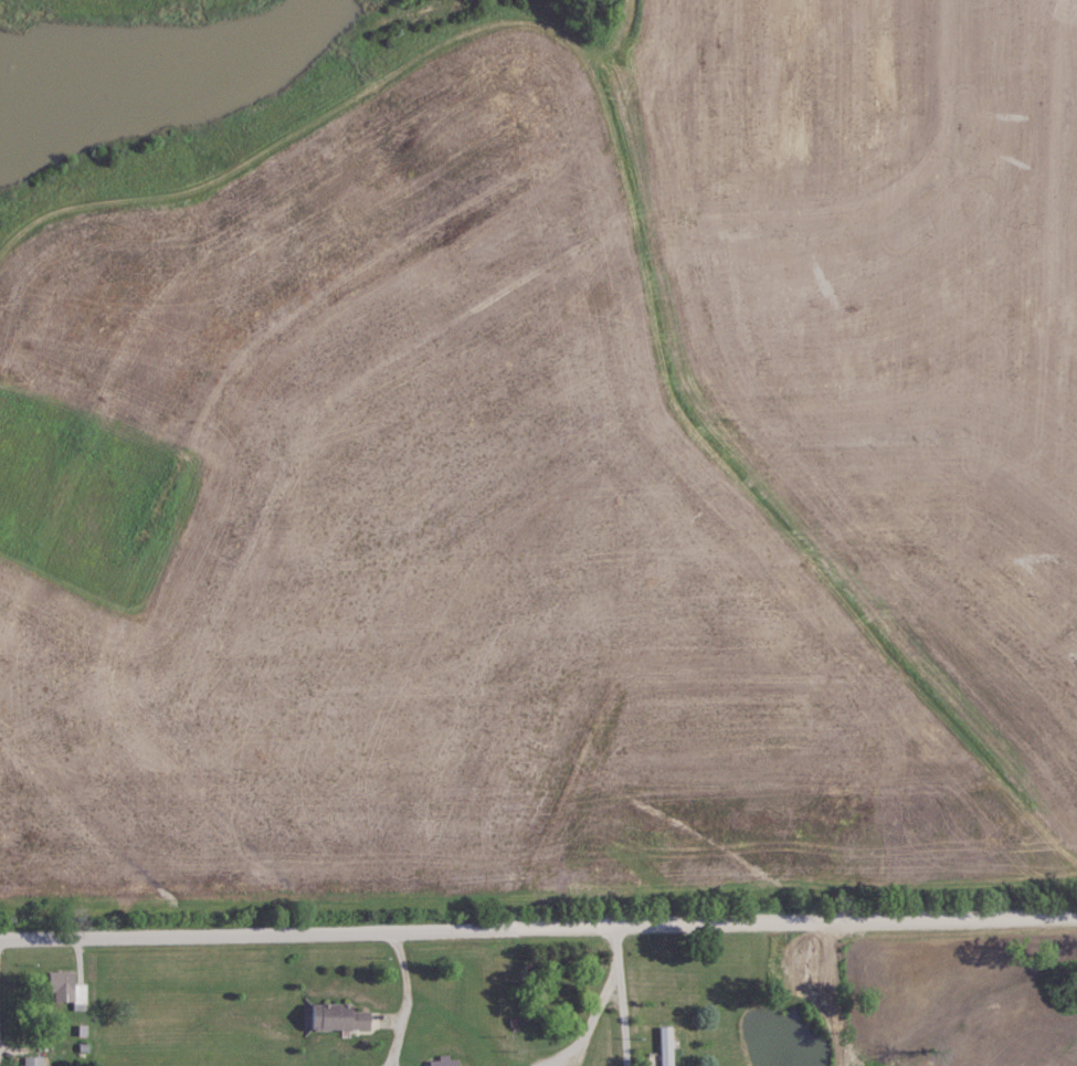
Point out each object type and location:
road: (538, 928)
building: (67, 989)
road: (621, 996)
building: (338, 1017)
road: (588, 1027)
building: (666, 1045)
building: (33, 1060)
building: (444, 1062)

